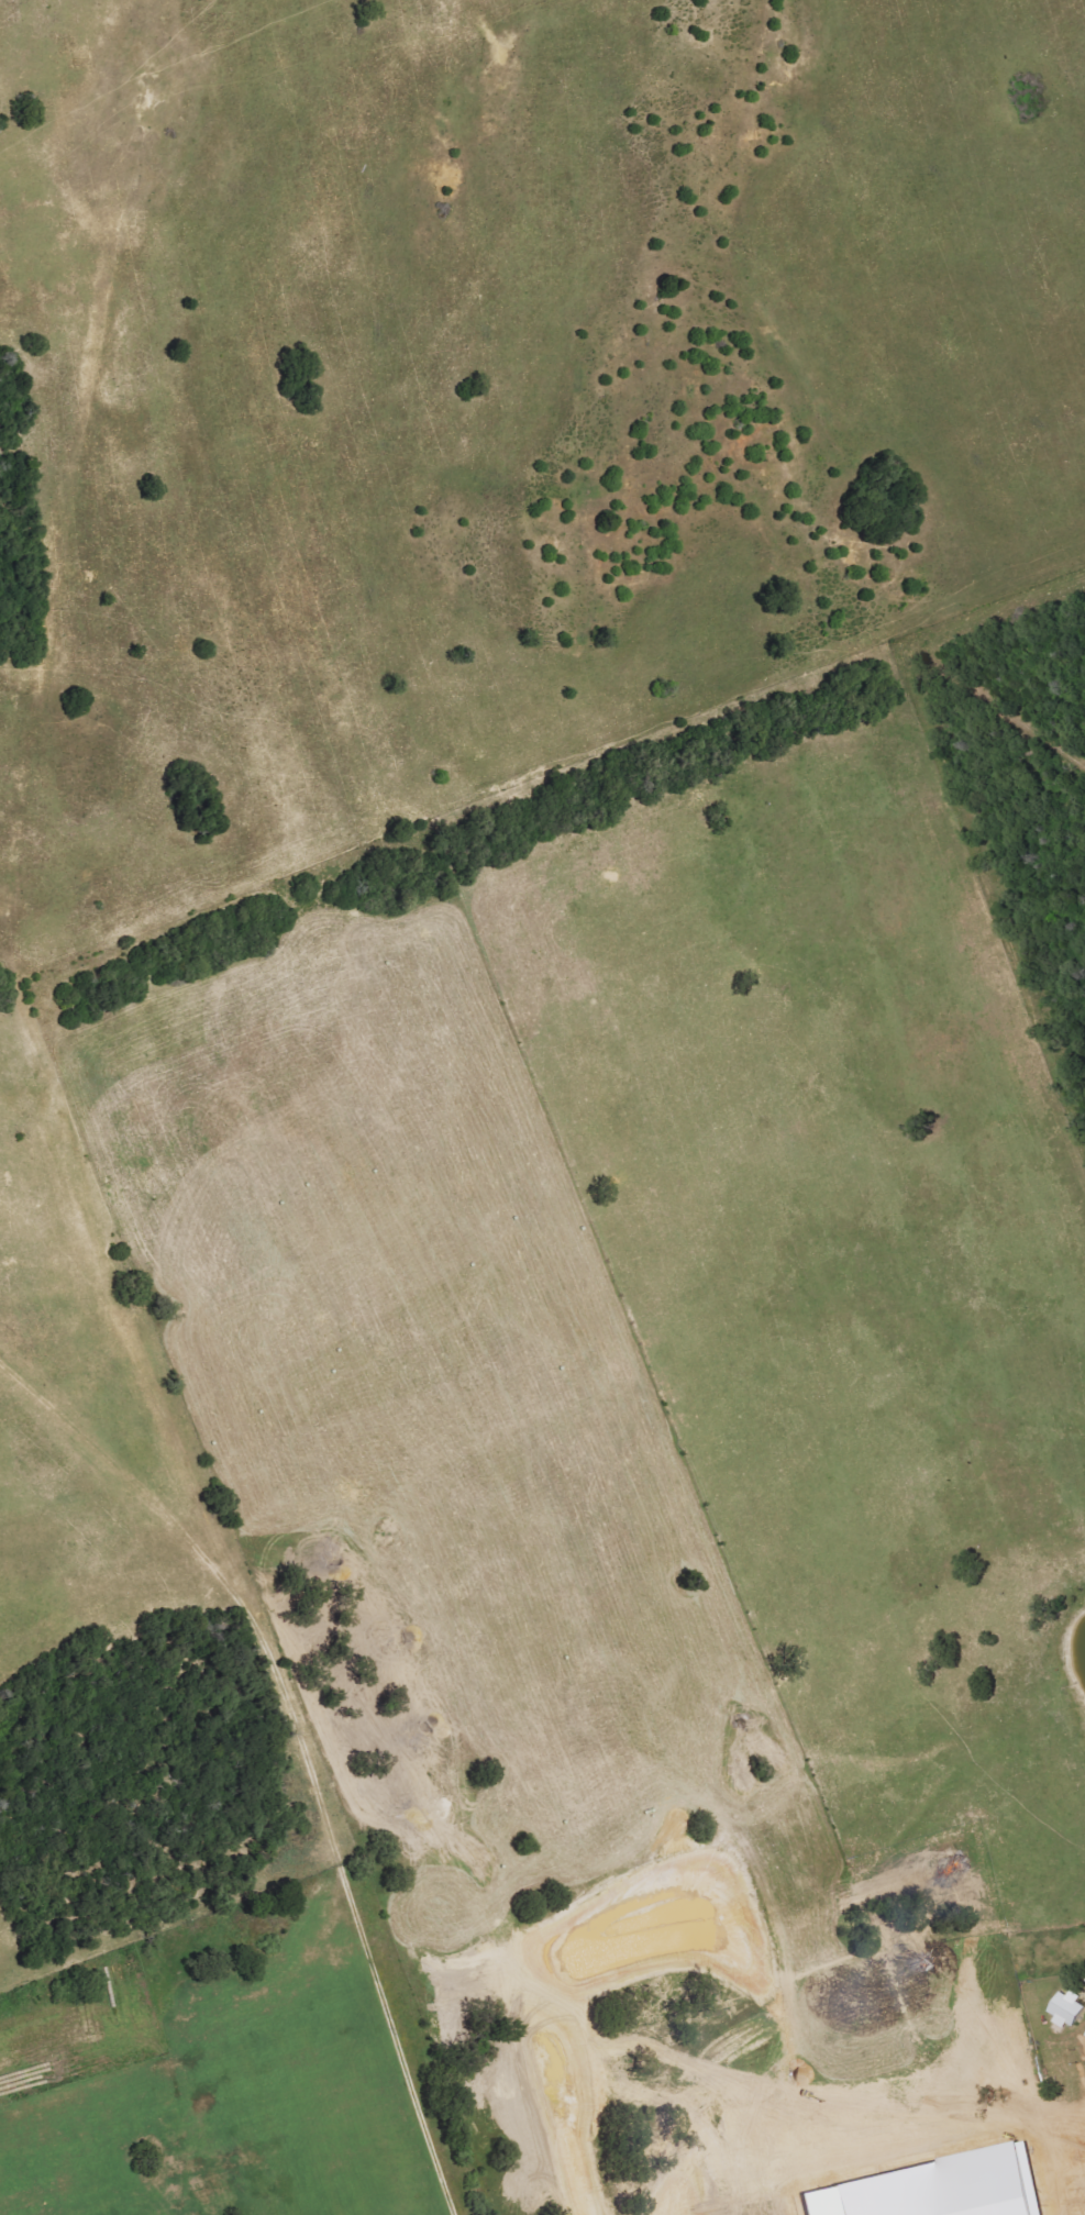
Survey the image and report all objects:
building: (1067, 2007)

